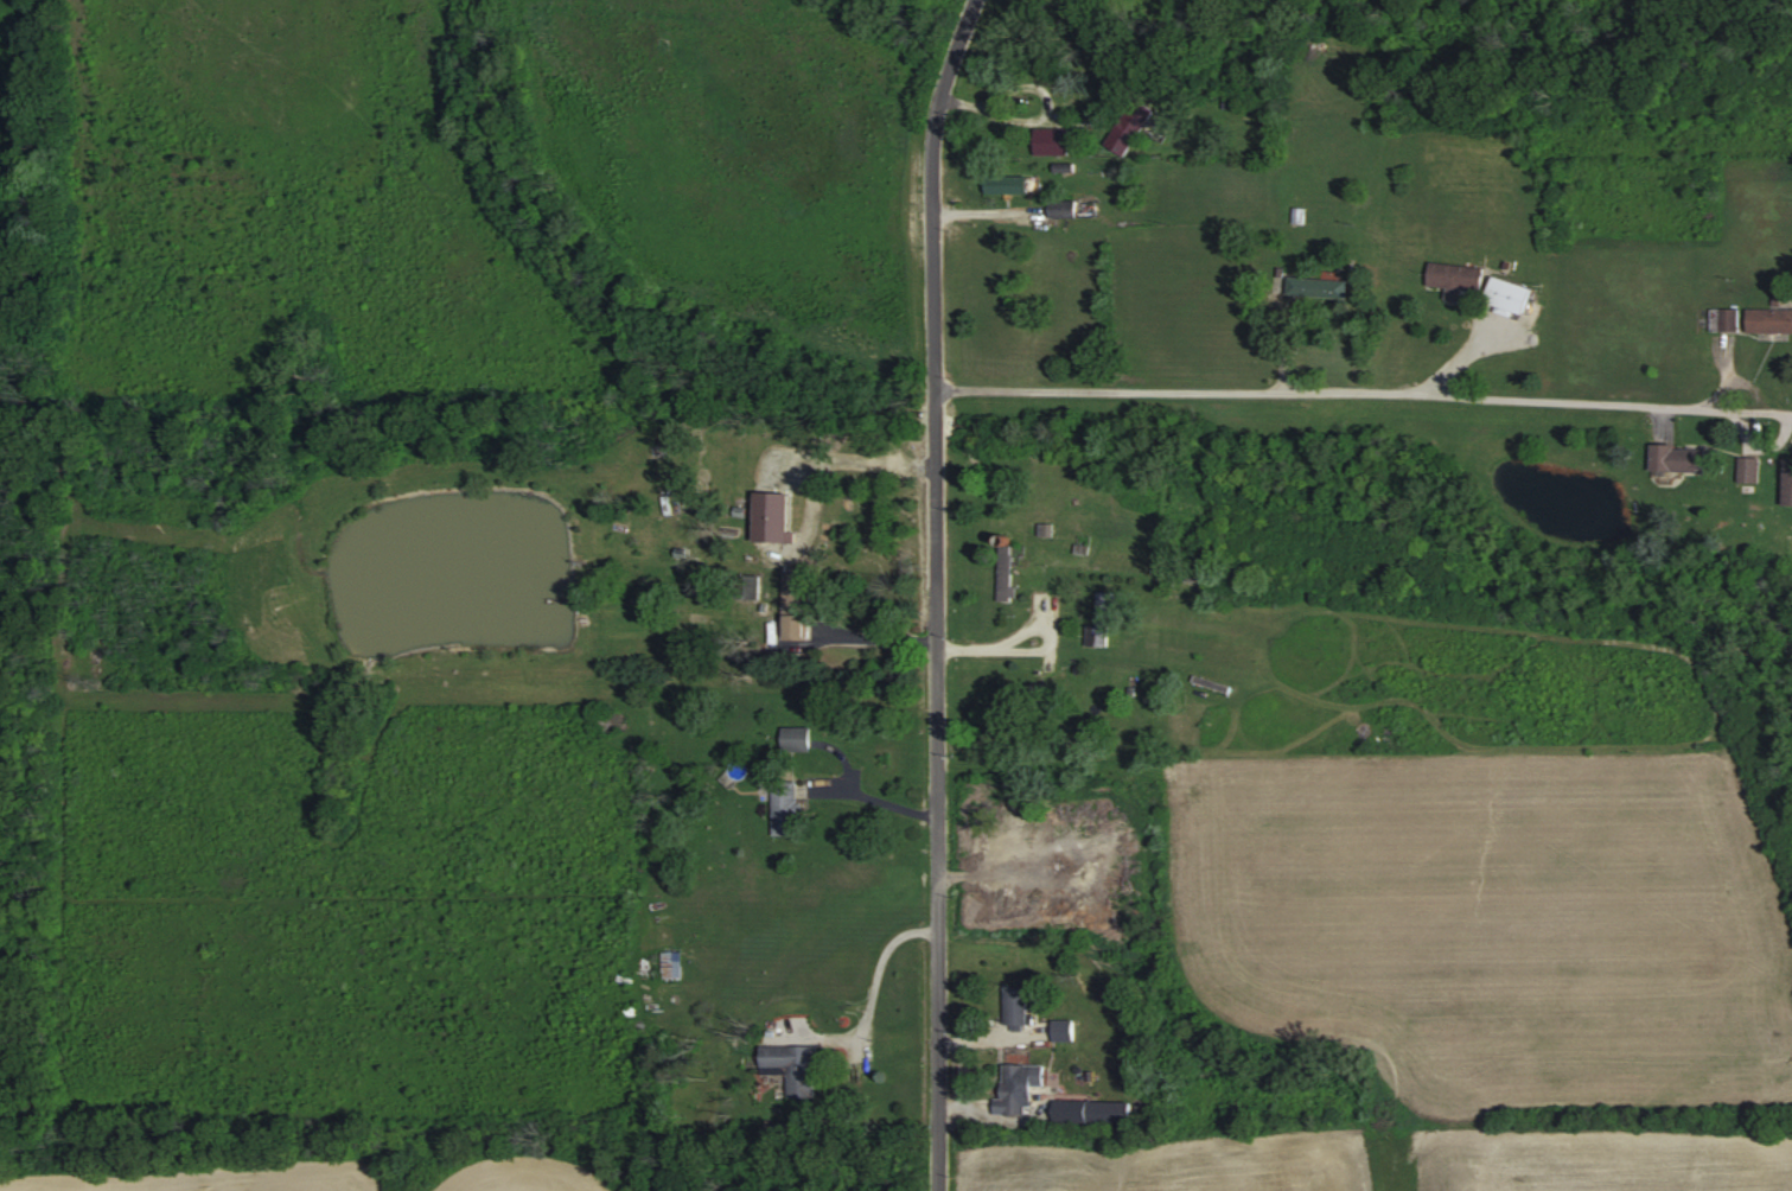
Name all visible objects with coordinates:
building: (1073, 2)
road: (1041, 115)
building: (1131, 125)
building: (1053, 139)
building: (1008, 181)
building: (1065, 206)
road: (982, 208)
building: (1459, 275)
building: (1015, 279)
building: (1320, 285)
building: (1514, 293)
building: (1726, 318)
building: (1771, 318)
road: (1284, 348)
road: (1459, 363)
road: (1728, 381)
road: (1364, 399)
road: (1658, 421)
road: (1764, 442)
building: (1683, 457)
building: (1750, 467)
building: (1788, 479)
building: (777, 515)
building: (801, 575)
road: (937, 591)
building: (1008, 592)
building: (1105, 614)
building: (801, 625)
road: (1023, 630)
building: (1213, 683)
building: (1026, 694)
building: (797, 737)
building: (789, 805)
building: (672, 963)
road: (875, 979)
building: (1018, 1004)
building: (793, 1065)
building: (1021, 1087)
building: (1096, 1109)

